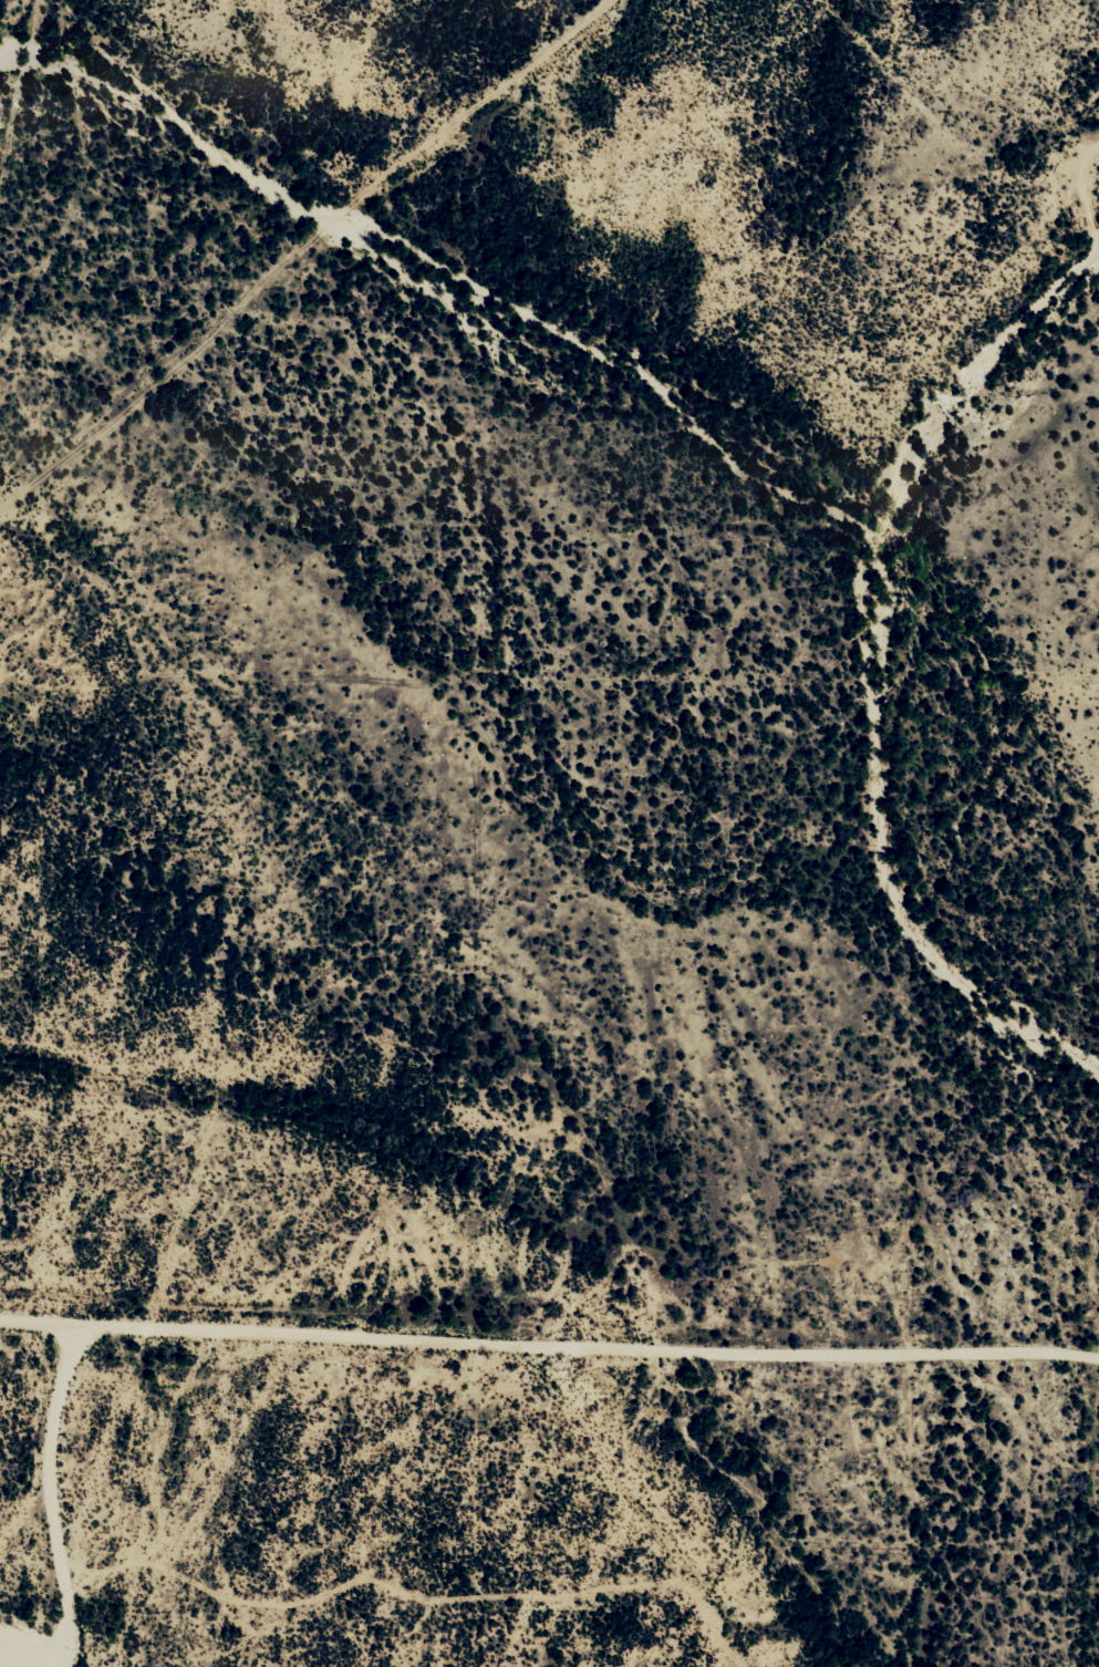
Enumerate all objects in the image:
road: (1085, 214)
road: (549, 1368)

